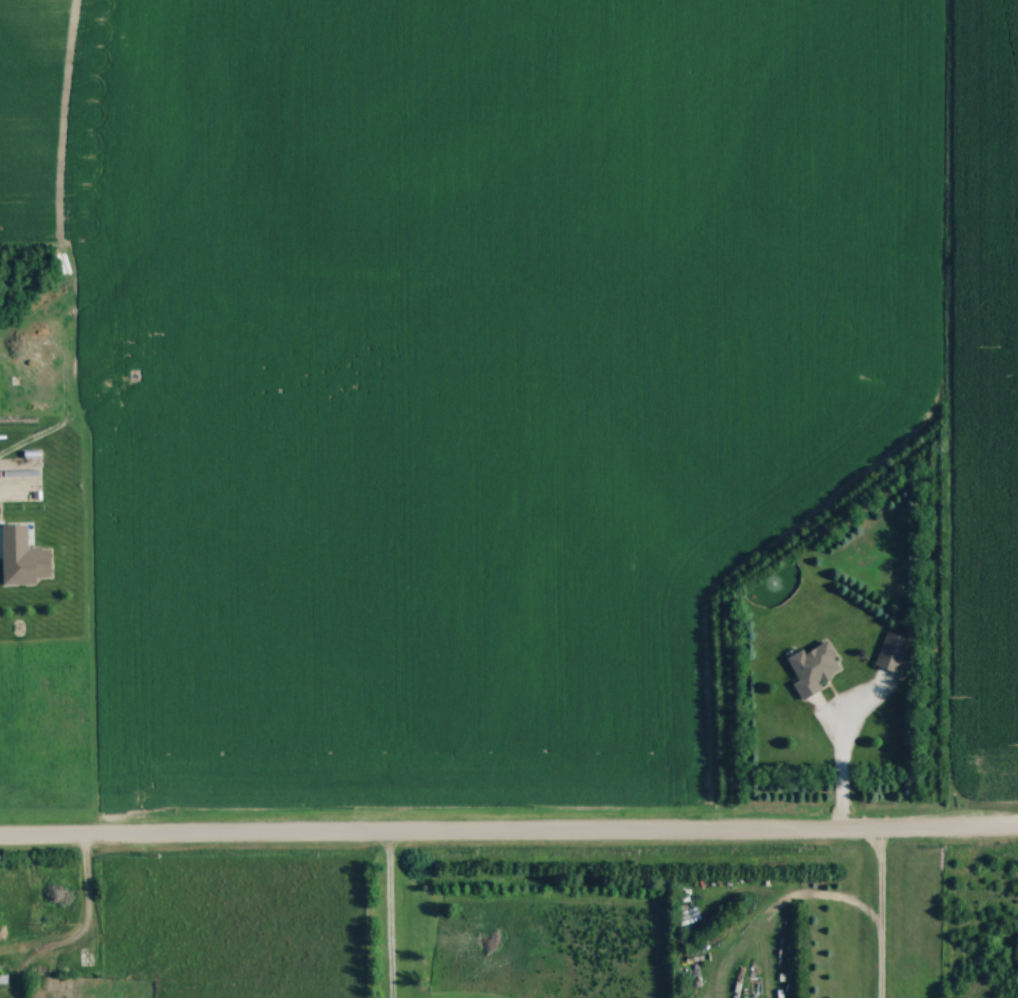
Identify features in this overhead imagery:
building: (893, 651)
building: (816, 668)
road: (841, 759)
road: (509, 831)
road: (879, 913)
road: (387, 915)
building: (3, 931)

